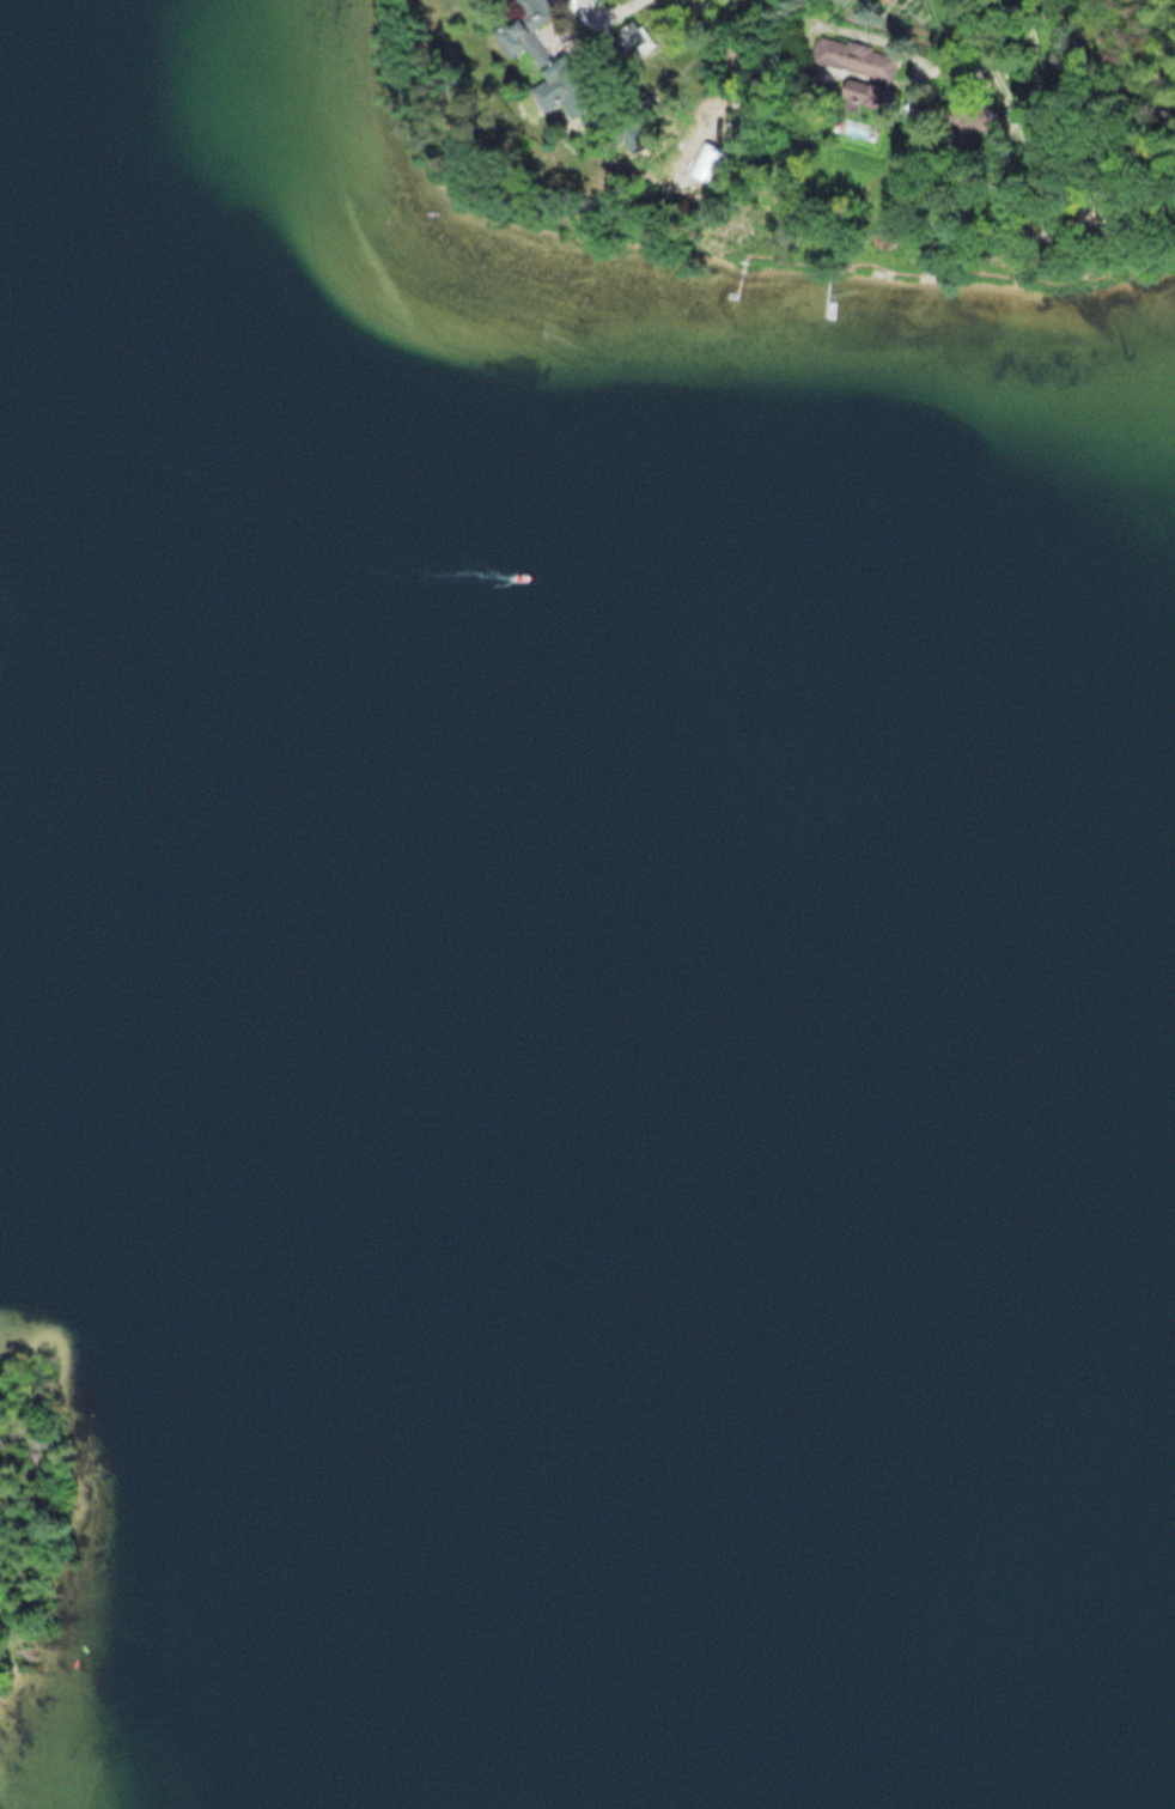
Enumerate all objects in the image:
road: (603, 12)
building: (532, 16)
building: (634, 38)
building: (853, 56)
building: (869, 93)
building: (564, 96)
park: (34, 1525)

